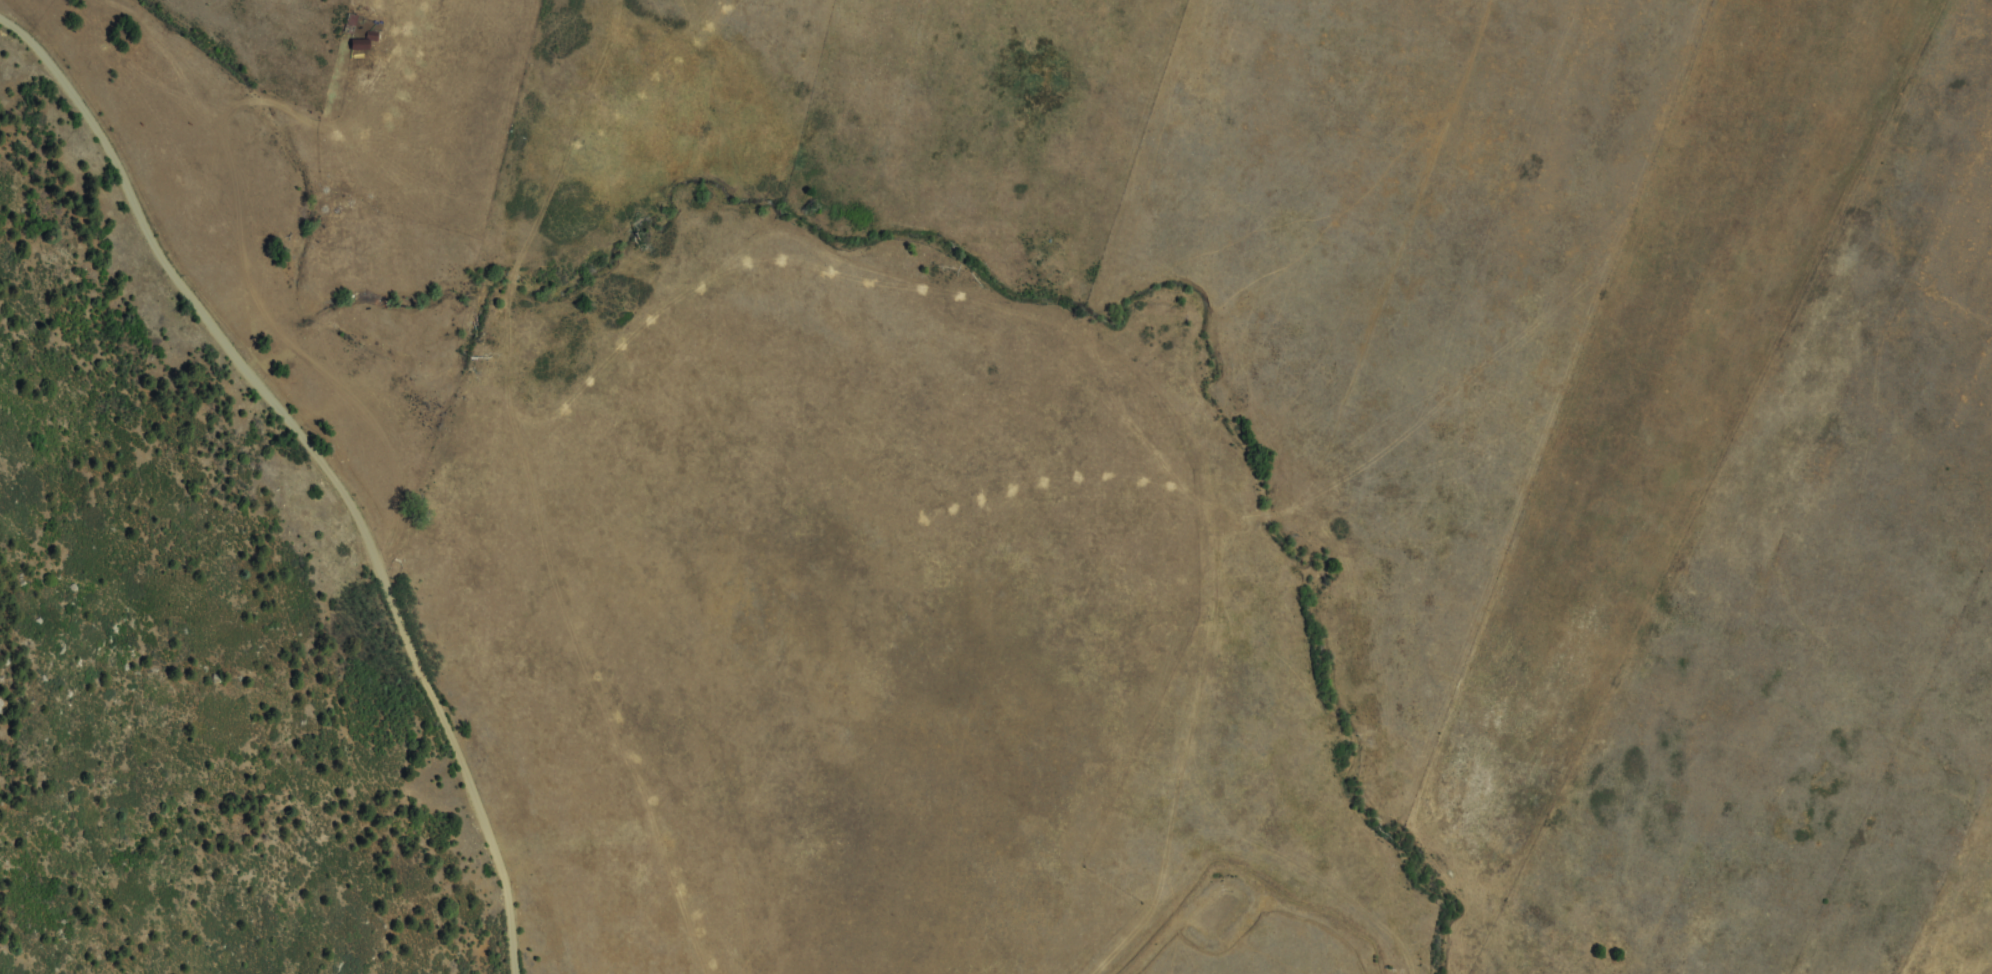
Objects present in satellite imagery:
building: (351, 24)
road: (336, 459)
road: (1241, 910)

